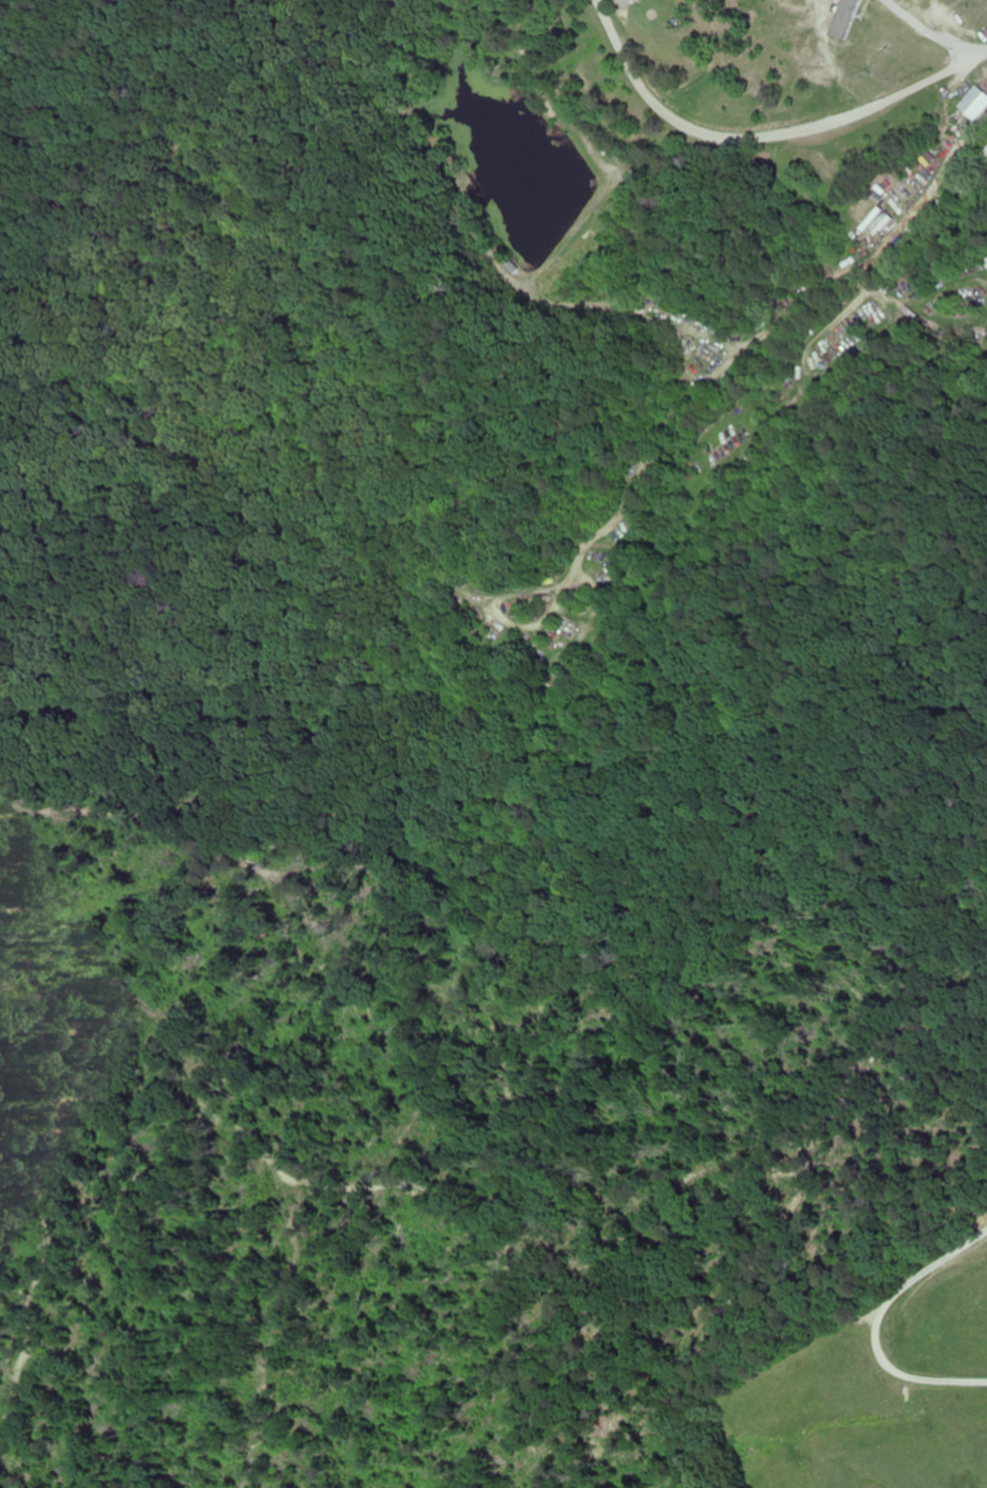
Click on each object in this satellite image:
building: (634, 3)
building: (847, 20)
road: (954, 44)
building: (976, 105)

